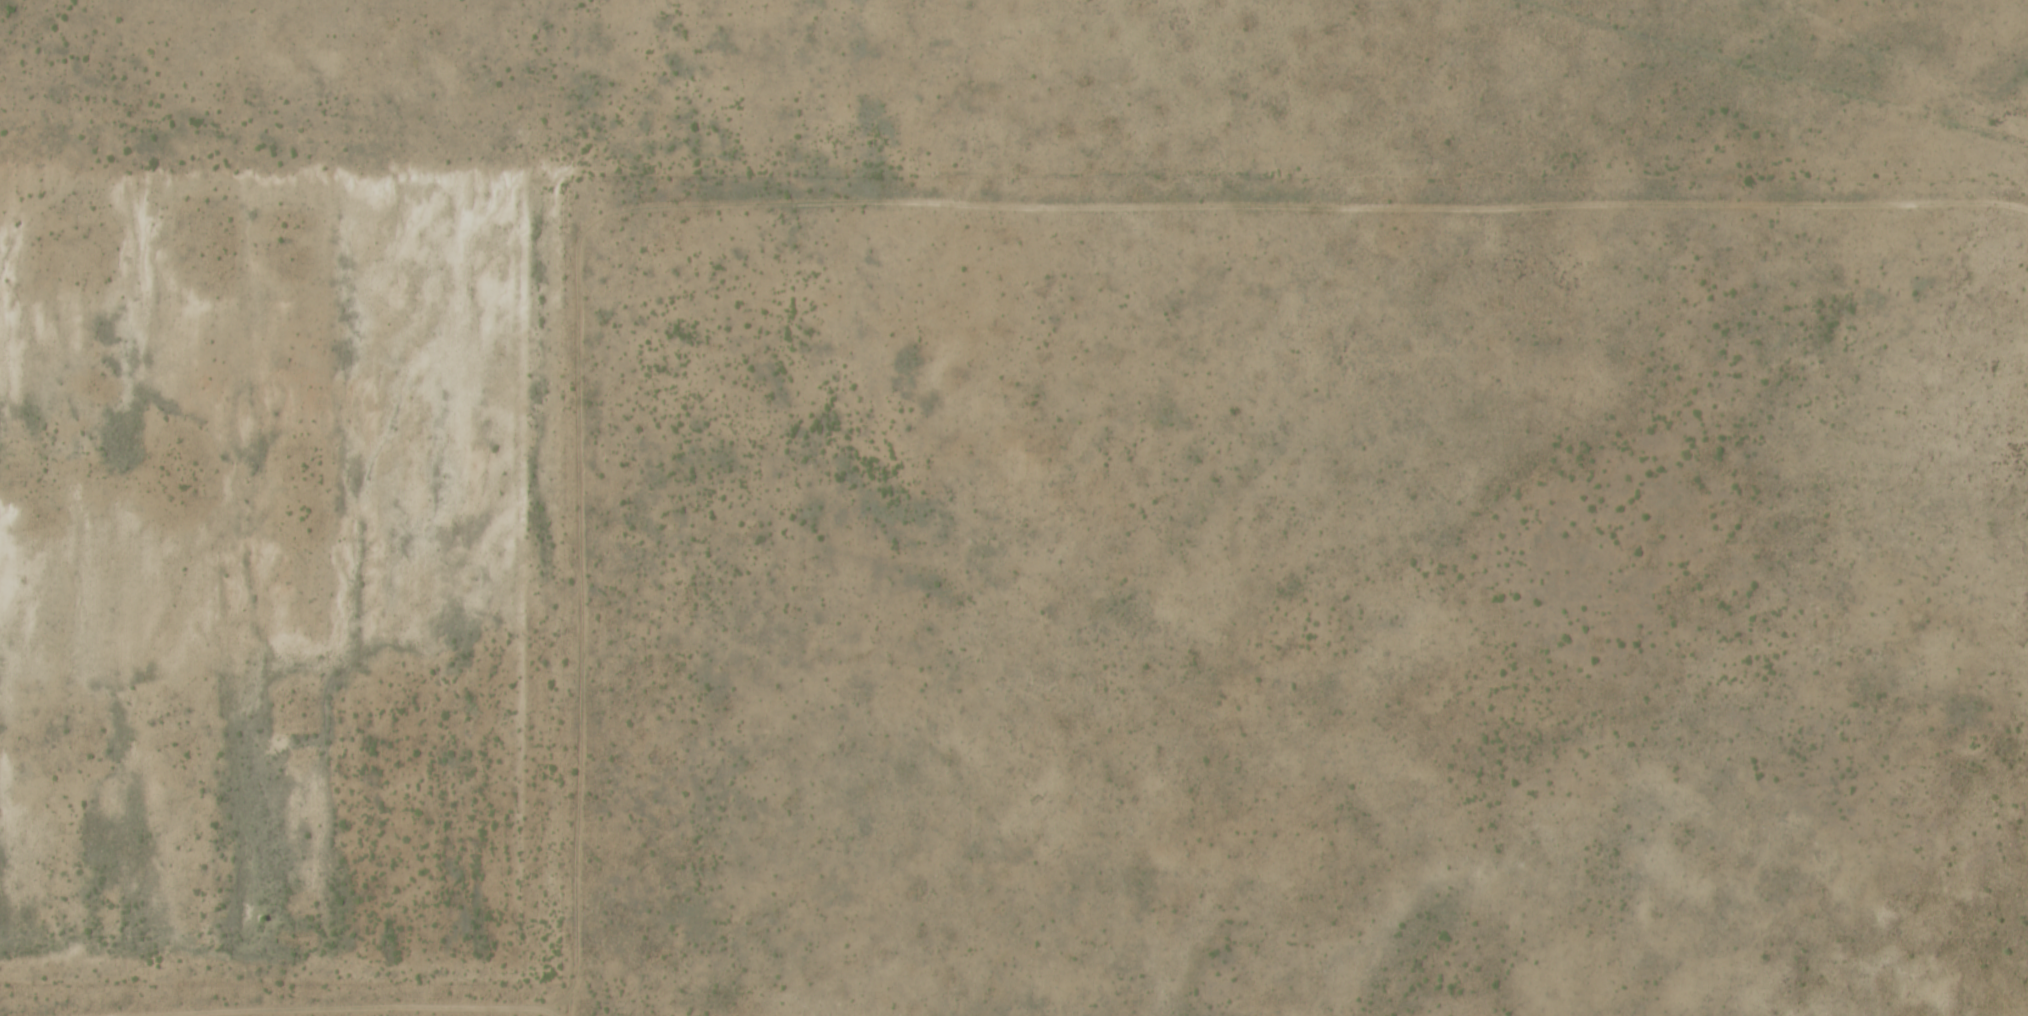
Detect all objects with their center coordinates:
road: (1749, 85)
road: (907, 201)
road: (281, 1010)

